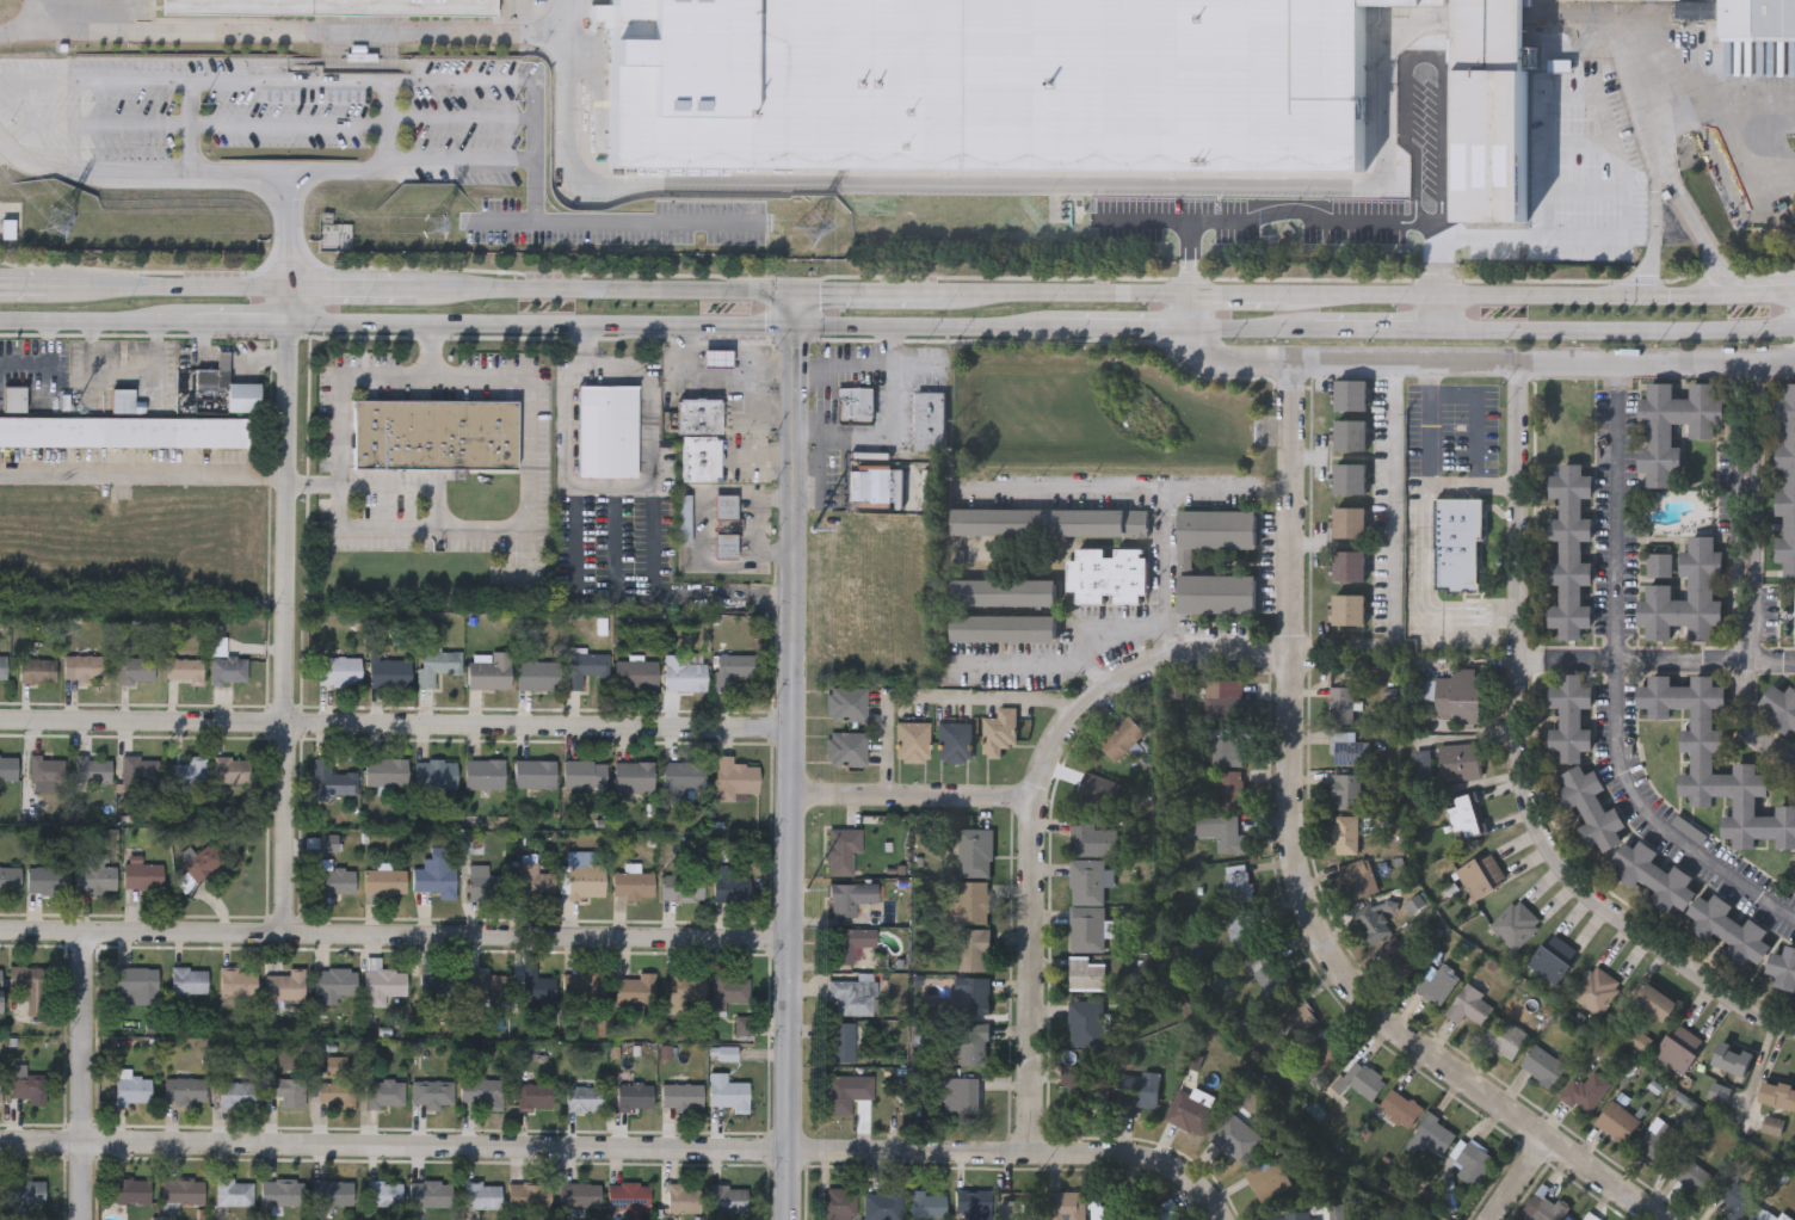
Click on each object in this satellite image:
building: (333, 6)
road: (47, 16)
building: (1744, 16)
road: (285, 32)
road: (1441, 73)
building: (1043, 86)
road: (1692, 105)
road: (190, 128)
road: (1742, 149)
road: (1621, 160)
road: (88, 170)
road: (1315, 184)
road: (791, 186)
road: (1587, 186)
road: (1654, 202)
road: (1680, 202)
road: (611, 217)
power tower: (814, 226)
power tower: (58, 227)
road: (291, 227)
power tower: (436, 227)
road: (1189, 239)
road: (1442, 240)
road: (1723, 270)
road: (1647, 271)
traffic signals: (1647, 278)
road: (1283, 279)
road: (29, 283)
road: (174, 283)
road: (353, 285)
road: (605, 291)
road: (1766, 292)
traffic signals: (821, 294)
road: (852, 294)
road: (1049, 294)
road: (1236, 295)
road: (1511, 295)
traffic signals: (1670, 295)
road: (291, 303)
road: (772, 309)
road: (1189, 312)
road: (1443, 312)
road: (97, 322)
road: (243, 322)
road: (687, 325)
traffic signals: (766, 325)
road: (1136, 327)
road: (1252, 328)
road: (1378, 329)
road: (1618, 331)
road: (794, 339)
traffic signals: (795, 346)
building: (717, 361)
road: (1344, 361)
road: (1654, 361)
road: (1740, 362)
road: (843, 365)
road: (27, 369)
road: (1744, 369)
road: (1738, 370)
road: (1617, 375)
building: (226, 394)
building: (1352, 398)
building: (14, 402)
building: (123, 403)
building: (855, 405)
building: (701, 417)
building: (931, 424)
road: (894, 429)
building: (1659, 431)
building: (607, 433)
building: (124, 435)
building: (434, 437)
building: (1352, 437)
building: (702, 460)
road: (1427, 466)
road: (146, 473)
building: (1785, 479)
building: (1351, 481)
road: (315, 482)
building: (868, 486)
road: (610, 487)
road: (1061, 487)
road: (1393, 492)
road: (1750, 505)
road: (1735, 506)
building: (726, 509)
building: (684, 522)
building: (1049, 522)
building: (1350, 524)
road: (465, 529)
power tower: (807, 538)
road: (1166, 542)
building: (726, 547)
building: (1458, 552)
building: (1571, 554)
building: (1185, 563)
building: (1659, 563)
road: (1424, 567)
building: (1351, 568)
building: (1108, 574)
building: (1659, 591)
road: (670, 592)
building: (1001, 592)
building: (1350, 612)
road: (1475, 616)
road: (1500, 616)
building: (1003, 628)
road: (289, 629)
road: (1738, 642)
road: (1746, 642)
road: (1167, 643)
road: (1463, 654)
road: (1531, 657)
road: (1035, 660)
road: (1581, 660)
road: (1708, 661)
building: (438, 668)
building: (4, 670)
building: (585, 670)
building: (84, 671)
building: (733, 671)
building: (185, 672)
building: (37, 673)
building: (136, 673)
building: (229, 673)
building: (340, 673)
building: (491, 674)
building: (390, 676)
building: (637, 677)
building: (685, 677)
building: (538, 678)
road: (934, 695)
road: (1618, 695)
building: (1456, 697)
building: (846, 707)
building: (1226, 708)
building: (1341, 708)
building: (1782, 710)
road: (1748, 714)
building: (1571, 719)
road: (395, 729)
building: (999, 734)
building: (1121, 740)
building: (913, 744)
building: (954, 744)
building: (847, 751)
building: (1350, 752)
building: (1227, 753)
road: (790, 756)
building: (1702, 758)
building: (1462, 764)
road: (1524, 765)
building: (8, 770)
building: (48, 771)
building: (232, 774)
building: (387, 774)
building: (93, 775)
building: (141, 775)
building: (190, 776)
building: (535, 776)
building: (437, 777)
building: (486, 777)
building: (585, 777)
building: (635, 780)
building: (684, 780)
building: (333, 782)
building: (736, 783)
building: (1230, 793)
building: (1349, 794)
road: (909, 799)
building: (1590, 808)
road: (1029, 812)
building: (1467, 820)
building: (1227, 837)
building: (1346, 837)
building: (1091, 840)
building: (328, 845)
building: (843, 854)
building: (975, 856)
building: (204, 865)
road: (1293, 871)
building: (1653, 875)
building: (144, 880)
building: (1482, 880)
building: (437, 881)
building: (10, 882)
building: (95, 882)
building: (1357, 882)
building: (48, 883)
building: (338, 883)
building: (385, 885)
building: (587, 885)
building: (536, 886)
building: (486, 887)
building: (732, 887)
power tower: (803, 887)
building: (1238, 887)
building: (633, 888)
building: (683, 891)
building: (851, 900)
building: (970, 907)
building: (1086, 908)
building: (1373, 925)
building: (1516, 926)
building: (1728, 929)
building: (1245, 931)
road: (395, 935)
building: (850, 947)
building: (973, 953)
building: (1399, 961)
building: (1555, 961)
building: (1783, 969)
building: (1086, 976)
building: (1271, 976)
building: (190, 982)
building: (239, 985)
building: (385, 986)
building: (1438, 986)
building: (138, 987)
building: (334, 987)
building: (439, 987)
building: (285, 988)
building: (487, 988)
building: (538, 990)
building: (582, 990)
building: (32, 991)
building: (0, 992)
building: (636, 992)
building: (1597, 993)
building: (686, 998)
building: (855, 999)
building: (974, 999)
building: (734, 1003)
building: (1658, 1005)
building: (1470, 1009)
building: (1299, 1019)
building: (1086, 1027)
building: (1505, 1040)
building: (841, 1045)
building: (1645, 1045)
building: (974, 1047)
building: (1327, 1052)
building: (1680, 1052)
building: (728, 1055)
building: (1734, 1061)
building: (1544, 1068)
road: (82, 1076)
building: (1365, 1083)
building: (337, 1086)
building: (29, 1089)
building: (132, 1090)
building: (0, 1092)
building: (1085, 1092)
building: (286, 1093)
building: (185, 1095)
building: (728, 1095)
building: (846, 1095)
building: (1137, 1095)
building: (1586, 1095)
building: (387, 1096)
building: (483, 1096)
building: (1720, 1096)
building: (234, 1097)
building: (434, 1097)
building: (1778, 1097)
building: (536, 1098)
building: (961, 1098)
building: (635, 1099)
building: (683, 1099)
building: (585, 1101)
building: (1400, 1110)
building: (1191, 1116)
building: (1618, 1125)
building: (1774, 1128)
building: (1436, 1136)
building: (1236, 1140)
building: (1660, 1145)
road: (512, 1148)
road: (1135, 1156)
building: (1474, 1166)
road: (1513, 1179)
building: (1696, 1181)
building: (1269, 1183)
building: (132, 1194)
building: (25, 1195)
building: (234, 1195)
building: (283, 1195)
building: (181, 1196)
building: (332, 1196)
building: (384, 1196)
building: (431, 1197)
building: (483, 1199)
building: (528, 1199)
building: (580, 1200)
building: (629, 1200)
building: (1734, 1200)
building: (728, 1201)
building: (683, 1203)
building: (837, 1204)
building: (1023, 1206)
building: (1117, 1206)
building: (977, 1207)
building: (1065, 1207)
building: (883, 1208)
building: (927, 1208)
building: (1547, 1209)
building: (1764, 1214)
building: (1293, 1218)
building: (1590, 1218)
building: (1415, 1219)

